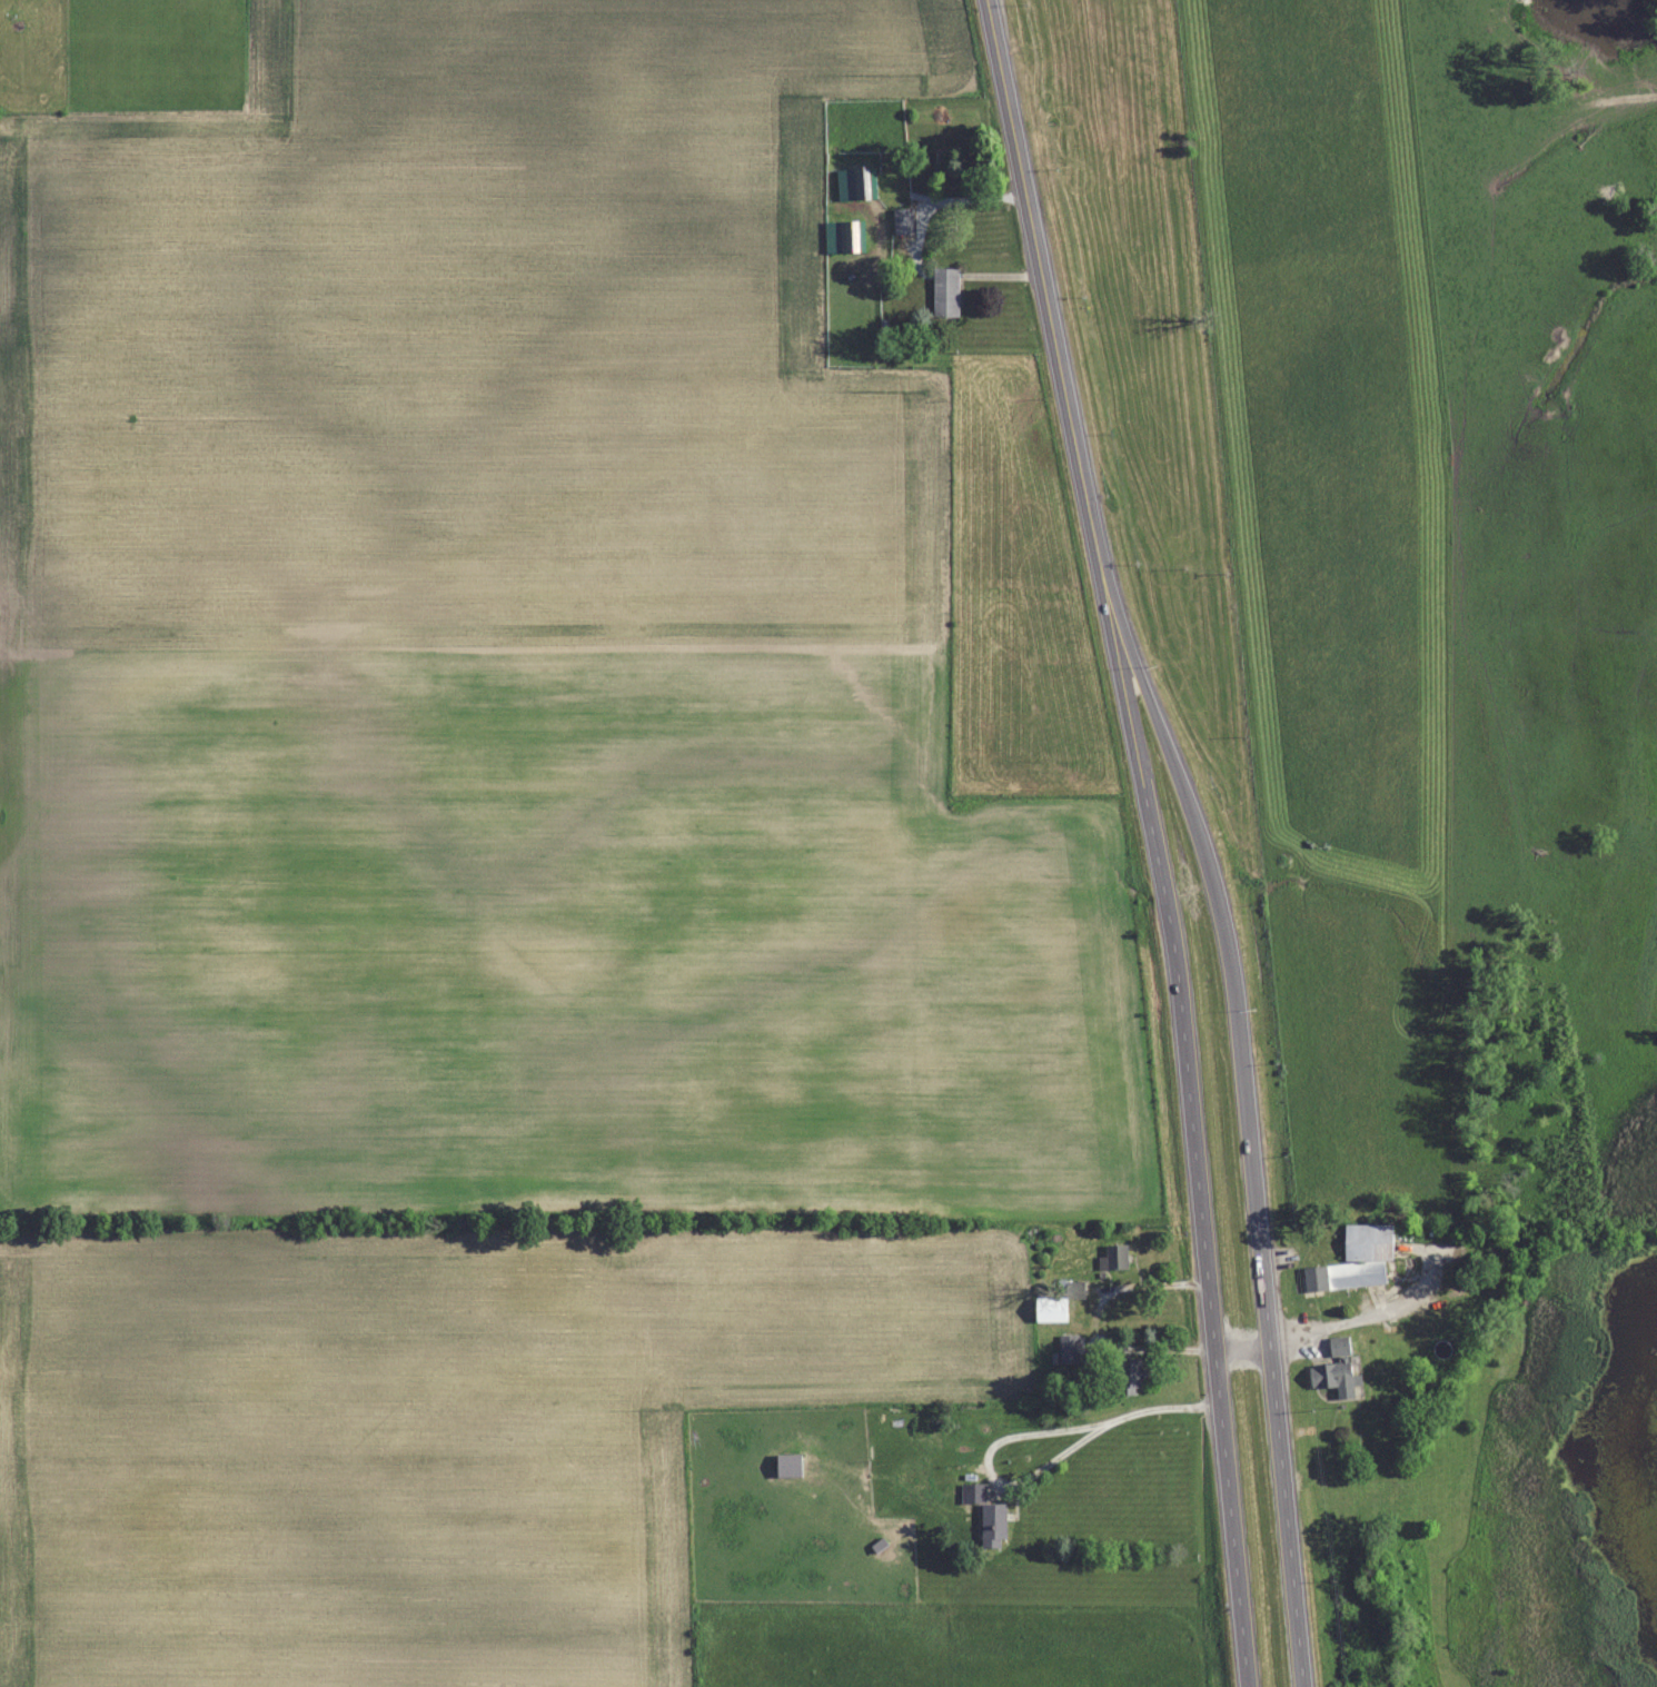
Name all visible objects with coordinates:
building: (855, 182)
building: (903, 220)
building: (844, 236)
road: (1046, 285)
building: (945, 291)
road: (1133, 740)
road: (1188, 811)
building: (1114, 1257)
building: (1356, 1260)
road: (1209, 1297)
building: (1056, 1301)
building: (1068, 1349)
road: (1244, 1357)
building: (1334, 1369)
building: (1127, 1372)
road: (1274, 1372)
road: (1039, 1475)
building: (913, 1479)
building: (986, 1515)

